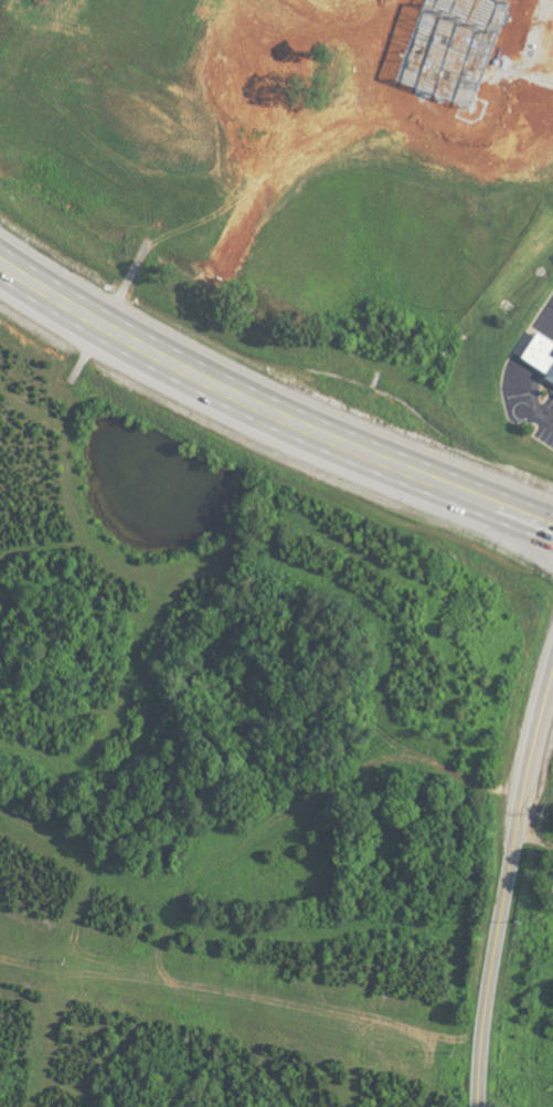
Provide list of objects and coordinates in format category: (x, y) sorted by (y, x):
building: (539, 359)
road: (268, 412)
road: (547, 421)
road: (535, 737)
road: (493, 951)

